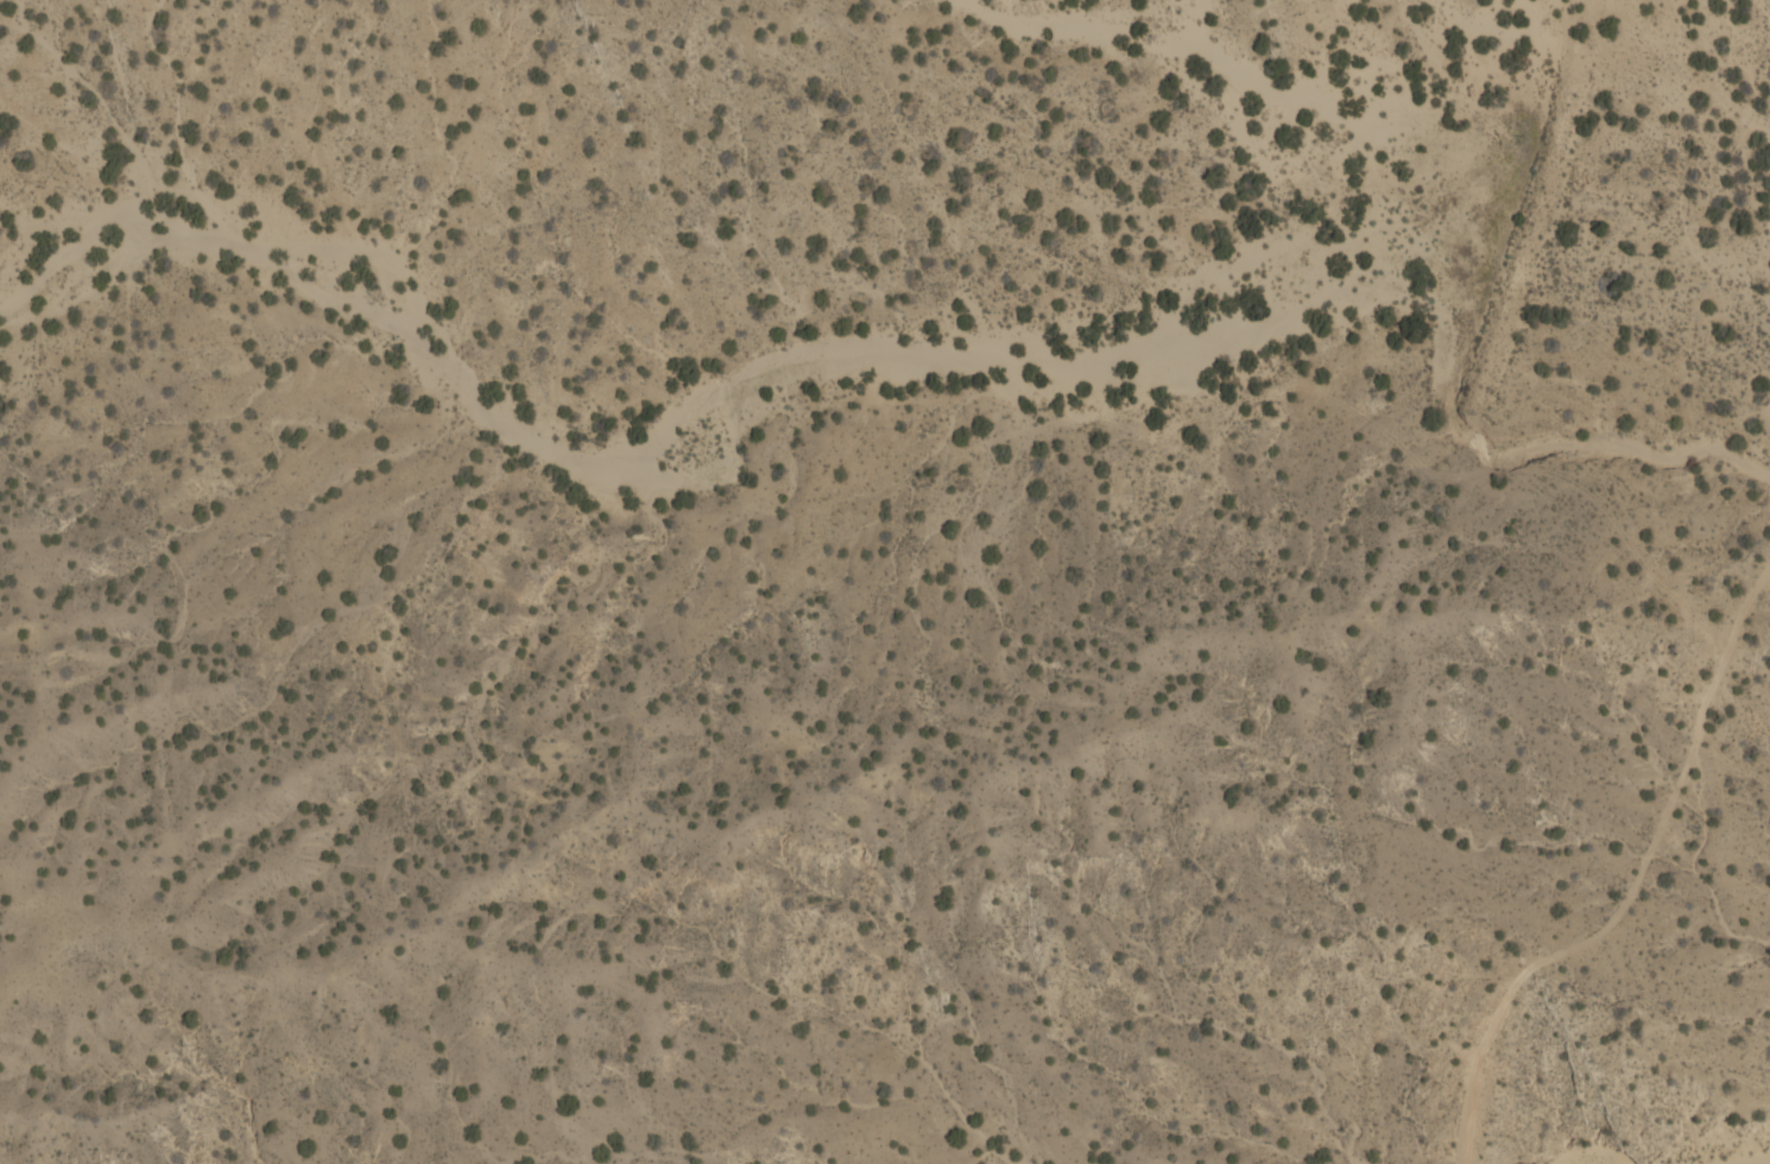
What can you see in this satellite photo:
road: (1635, 891)

